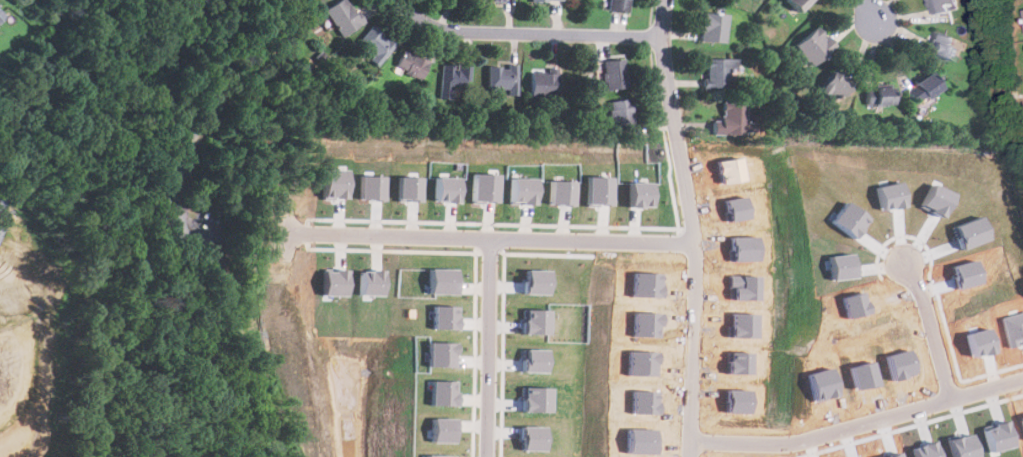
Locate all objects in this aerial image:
building: (547, 1)
building: (799, 4)
building: (618, 5)
building: (943, 7)
road: (871, 10)
building: (0, 15)
building: (343, 16)
building: (713, 27)
road: (526, 33)
building: (376, 44)
building: (943, 45)
building: (814, 46)
building: (411, 65)
building: (718, 71)
building: (614, 73)
building: (502, 78)
building: (452, 79)
building: (543, 83)
building: (835, 87)
building: (924, 88)
building: (879, 97)
building: (620, 114)
building: (730, 119)
road: (675, 124)
road: (393, 233)
road: (598, 243)
road: (937, 334)
road: (493, 348)
road: (698, 352)
road: (862, 428)

